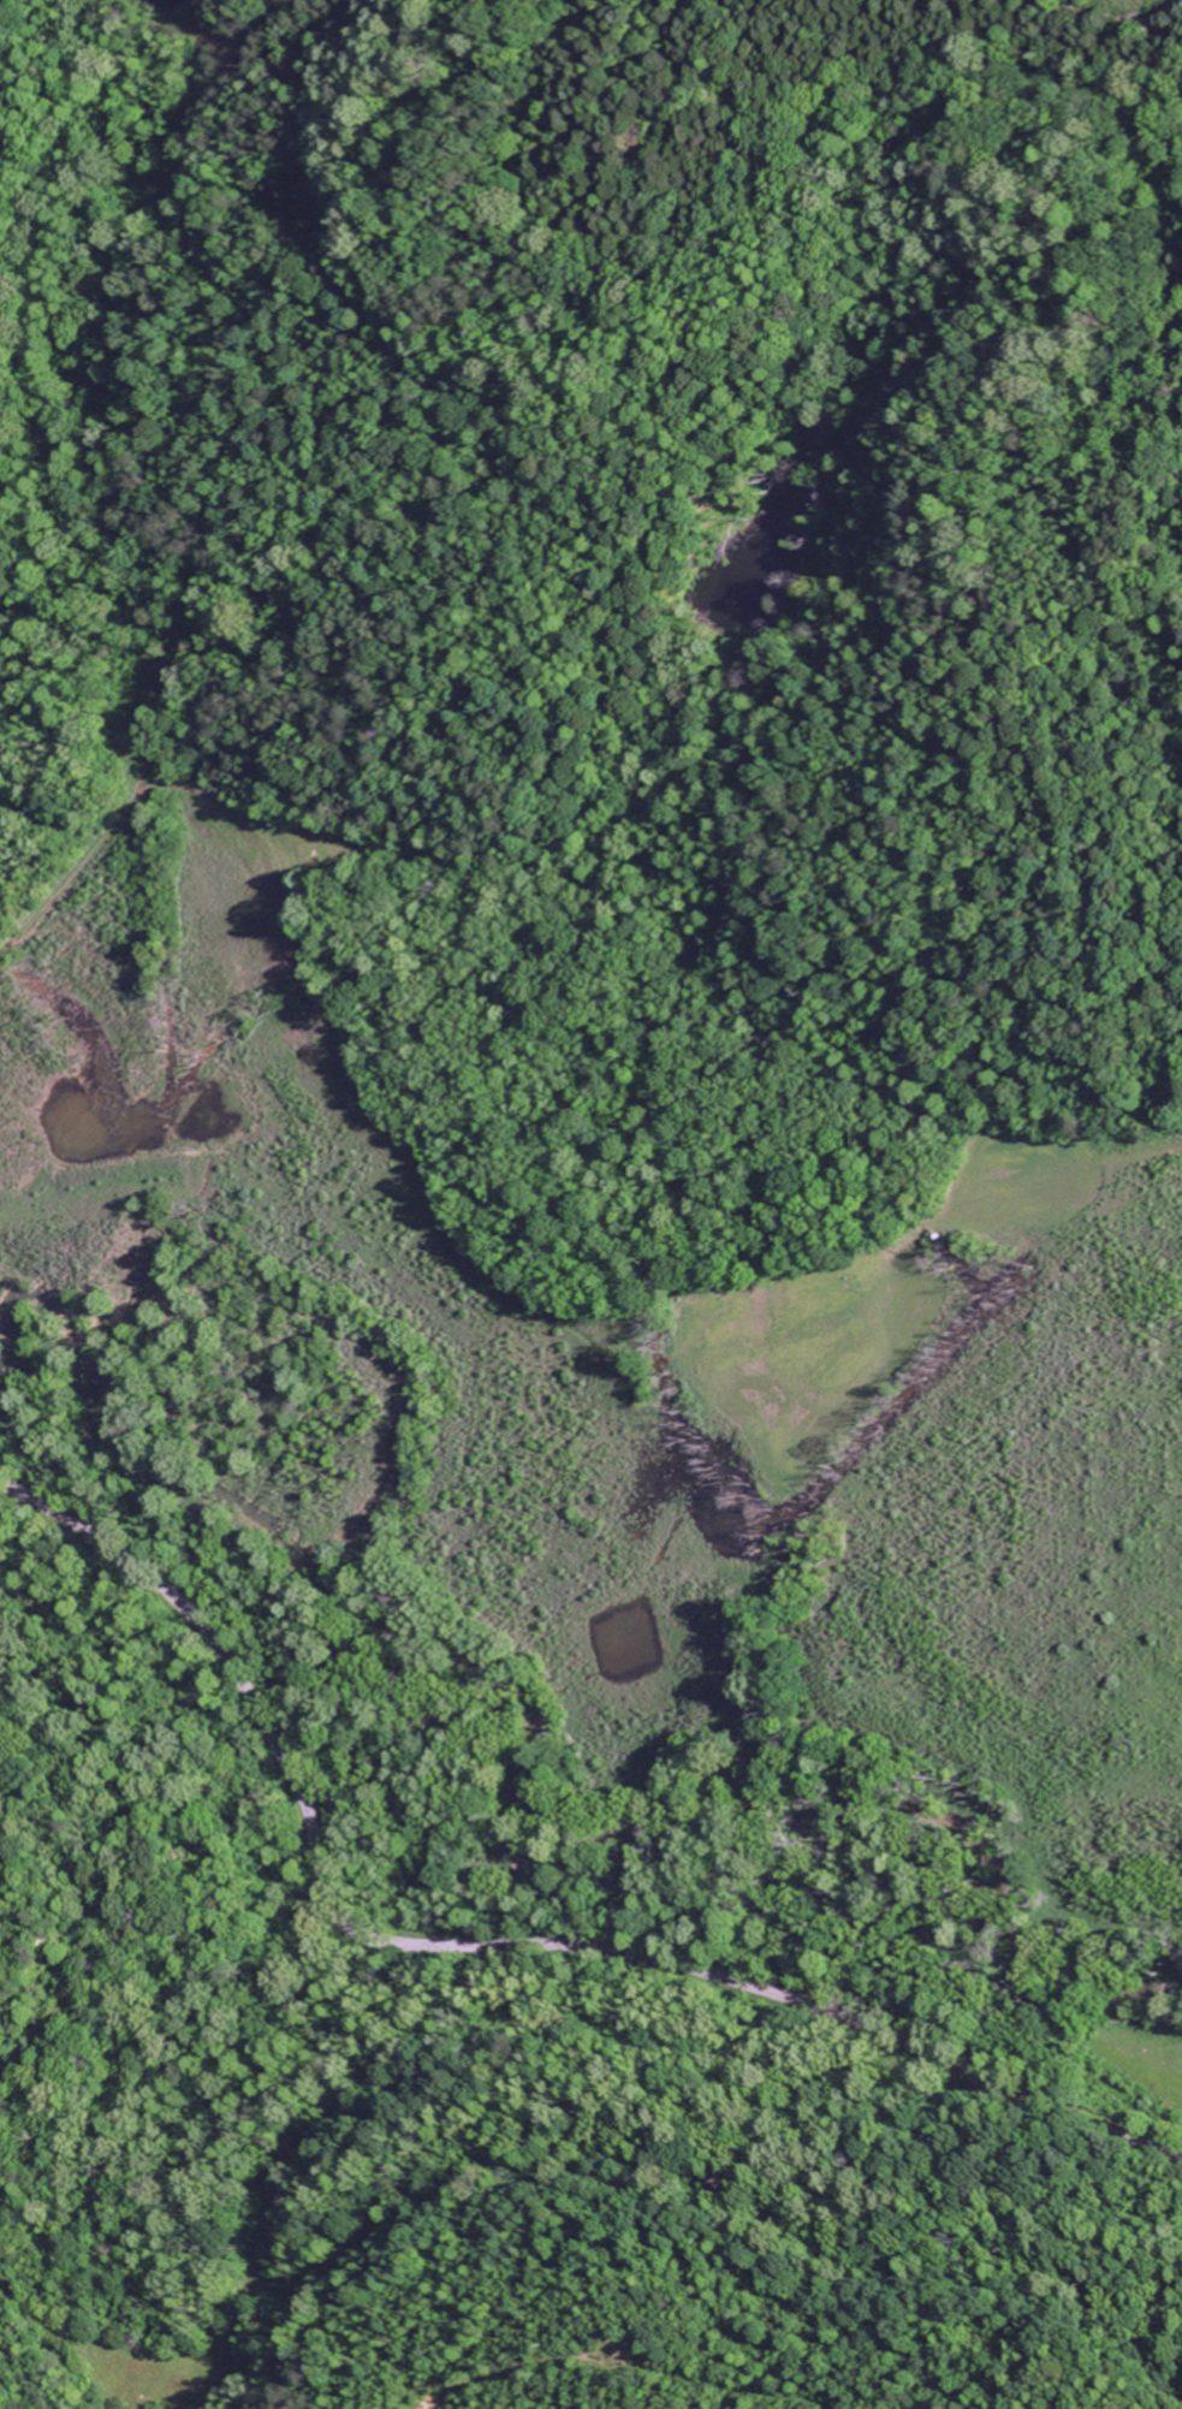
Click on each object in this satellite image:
road: (491, 1947)

